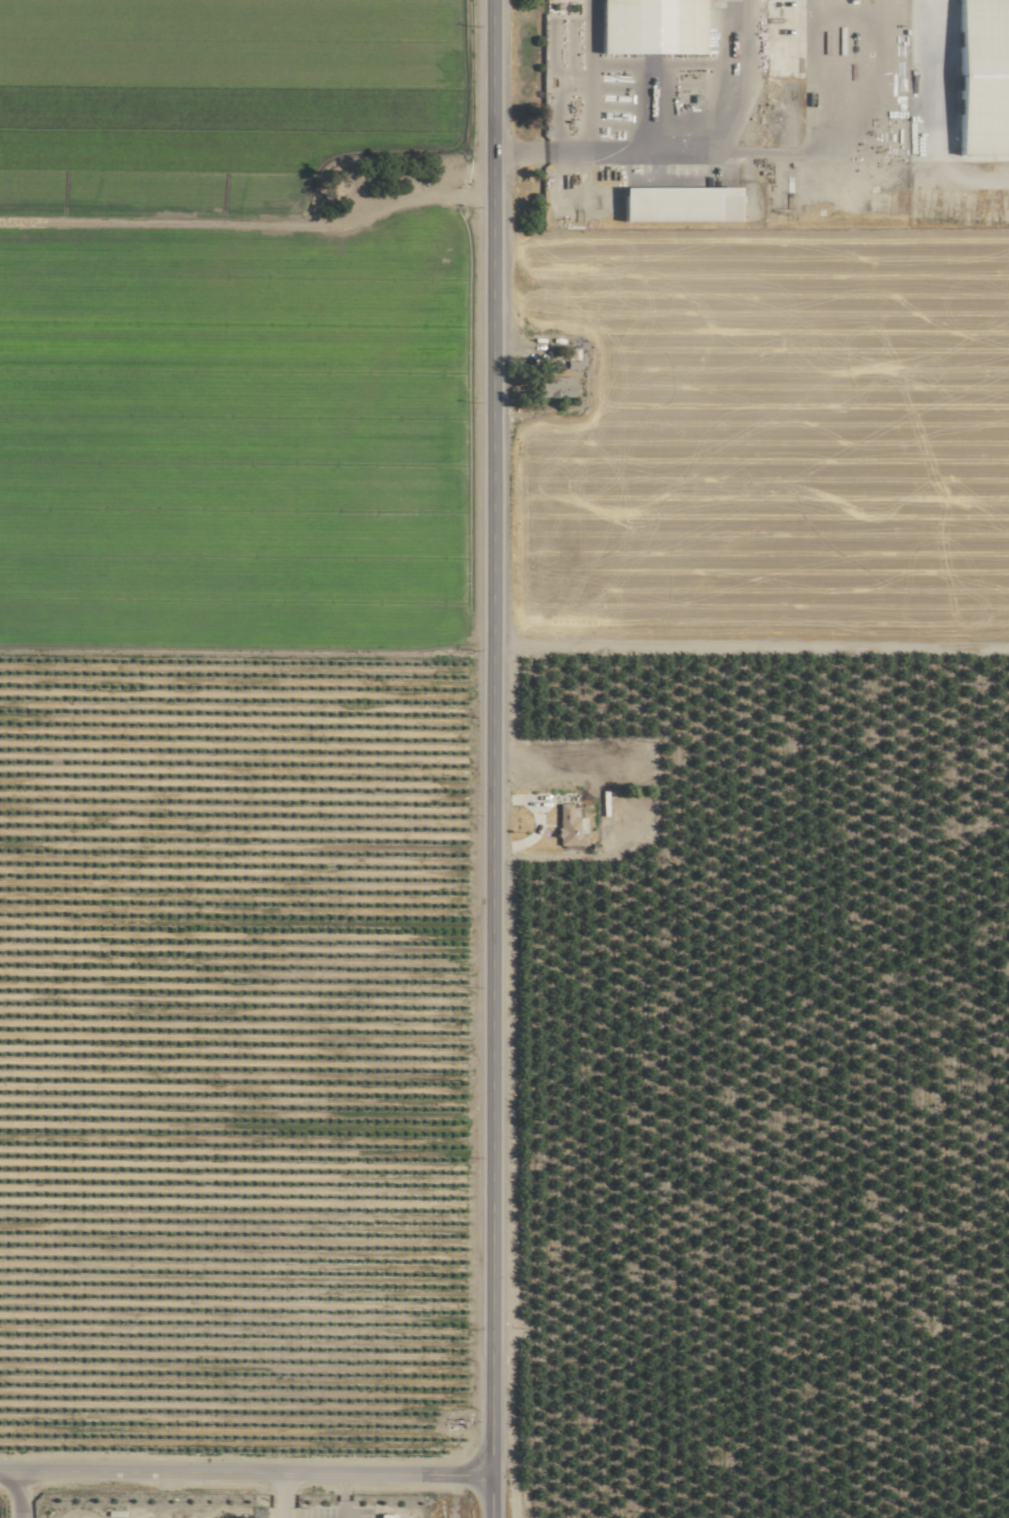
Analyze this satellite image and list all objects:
building: (647, 27)
building: (981, 80)
road: (591, 123)
road: (714, 130)
building: (674, 204)
building: (556, 386)
road: (482, 759)
building: (568, 827)
road: (744, 1351)
road: (240, 1477)
building: (383, 1515)

